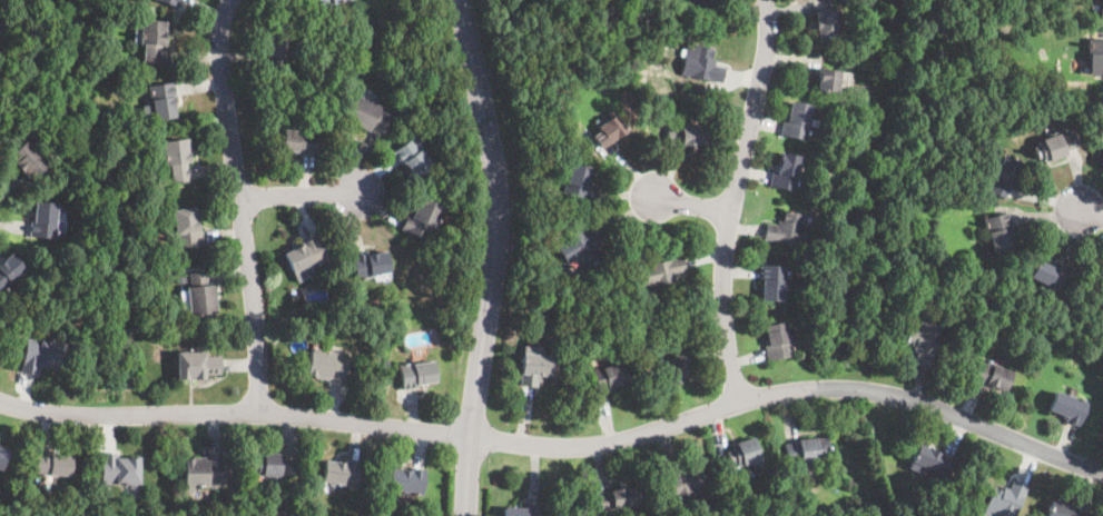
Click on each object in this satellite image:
building: (171, 2)
building: (326, 2)
building: (698, 4)
building: (626, 9)
building: (1101, 10)
building: (1068, 11)
building: (634, 12)
building: (825, 23)
building: (989, 24)
building: (661, 26)
building: (395, 38)
building: (152, 40)
building: (98, 43)
building: (1005, 47)
building: (275, 51)
building: (1095, 57)
building: (636, 62)
building: (0, 63)
building: (701, 66)
building: (93, 71)
building: (828, 80)
building: (90, 81)
building: (603, 81)
building: (395, 86)
building: (59, 89)
building: (161, 102)
building: (426, 106)
building: (366, 115)
building: (796, 121)
building: (609, 131)
building: (687, 136)
building: (299, 141)
building: (1055, 146)
building: (413, 158)
building: (175, 159)
building: (1102, 159)
building: (29, 161)
building: (785, 172)
building: (1005, 177)
building: (579, 182)
road: (302, 195)
road: (730, 200)
road: (690, 206)
road: (243, 207)
road: (1090, 214)
building: (423, 218)
building: (43, 221)
building: (187, 228)
building: (788, 230)
building: (999, 231)
building: (580, 248)
building: (305, 255)
road: (494, 256)
building: (370, 265)
building: (450, 269)
building: (10, 271)
building: (662, 275)
building: (1048, 275)
building: (181, 277)
building: (772, 282)
building: (201, 295)
building: (658, 301)
building: (549, 314)
building: (607, 329)
building: (996, 334)
building: (778, 341)
building: (923, 341)
building: (42, 355)
building: (385, 364)
building: (197, 366)
building: (327, 366)
building: (677, 368)
building: (534, 369)
building: (416, 374)
building: (991, 375)
building: (609, 377)
road: (788, 396)
building: (1068, 408)
road: (234, 416)
building: (807, 450)
building: (745, 454)
building: (3, 455)
building: (929, 460)
building: (53, 464)
building: (272, 465)
building: (120, 470)
building: (204, 473)
building: (342, 473)
building: (406, 480)
building: (683, 484)
building: (619, 498)
building: (1005, 500)
building: (1063, 508)
building: (522, 510)
building: (376, 515)

